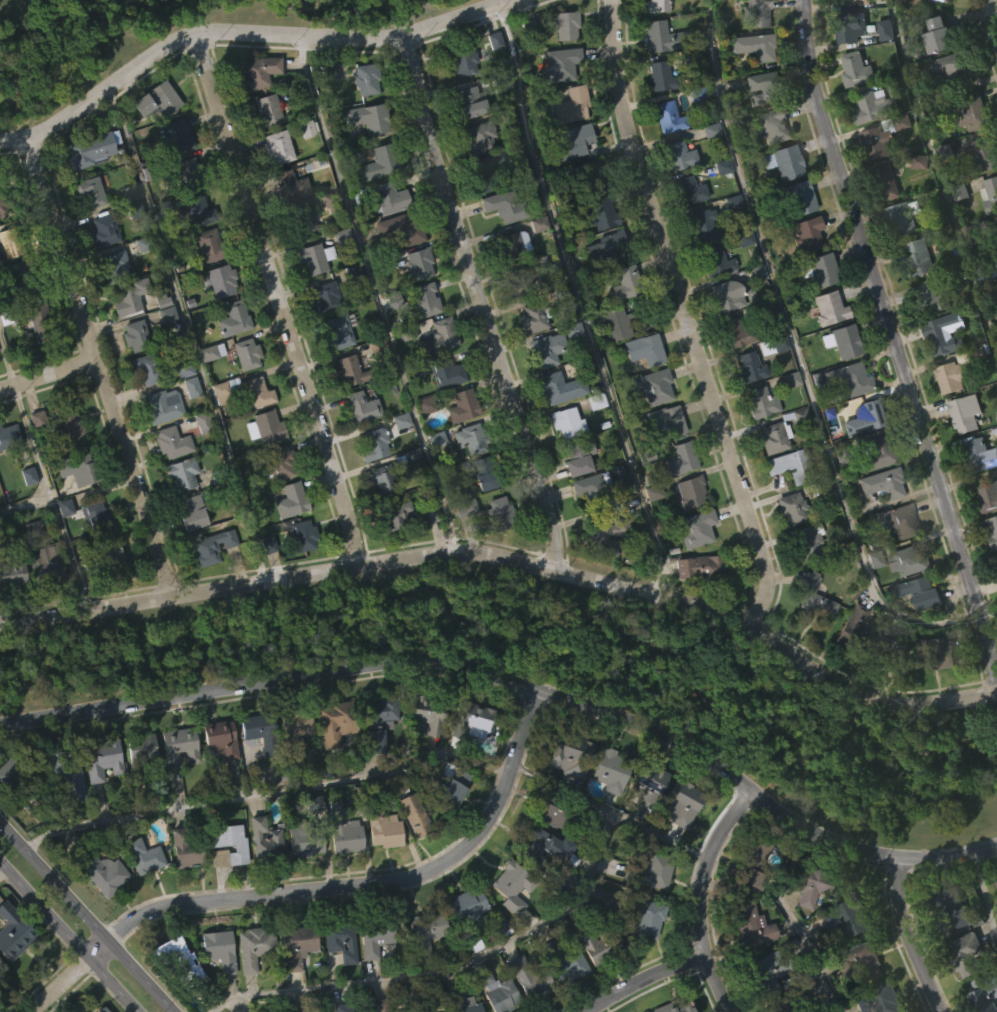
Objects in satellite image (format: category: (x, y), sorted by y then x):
building: (946, 0)
building: (846, 2)
building: (857, 2)
building: (657, 5)
building: (733, 10)
building: (757, 12)
road: (993, 12)
building: (932, 23)
building: (856, 25)
road: (243, 32)
building: (662, 36)
building: (941, 37)
building: (755, 45)
building: (463, 58)
building: (558, 64)
building: (525, 65)
building: (954, 68)
building: (855, 69)
building: (881, 69)
building: (256, 71)
building: (935, 74)
building: (658, 75)
building: (366, 78)
building: (491, 79)
building: (762, 84)
building: (156, 100)
building: (879, 101)
building: (467, 103)
building: (568, 104)
building: (945, 105)
building: (852, 109)
building: (326, 110)
building: (970, 110)
building: (267, 111)
building: (666, 116)
building: (369, 118)
building: (771, 124)
building: (179, 137)
building: (478, 137)
building: (153, 138)
building: (880, 140)
building: (463, 141)
building: (568, 141)
building: (275, 146)
building: (93, 148)
building: (968, 152)
building: (681, 155)
building: (981, 155)
building: (664, 156)
building: (364, 157)
building: (380, 161)
building: (782, 161)
building: (303, 167)
building: (707, 169)
building: (192, 172)
building: (175, 174)
building: (587, 174)
building: (485, 175)
road: (941, 176)
building: (569, 180)
building: (885, 182)
building: (289, 185)
building: (275, 186)
building: (690, 190)
building: (93, 191)
building: (943, 191)
building: (980, 193)
building: (675, 194)
building: (991, 195)
building: (798, 196)
building: (390, 197)
building: (5, 200)
building: (780, 200)
building: (505, 206)
building: (719, 206)
building: (181, 208)
building: (197, 211)
building: (602, 212)
building: (481, 214)
building: (900, 217)
building: (300, 221)
building: (883, 221)
building: (702, 223)
building: (996, 225)
building: (398, 226)
building: (686, 229)
building: (107, 230)
building: (86, 232)
building: (124, 232)
building: (804, 232)
building: (387, 236)
building: (16, 241)
building: (729, 241)
building: (208, 244)
building: (508, 245)
building: (195, 250)
building: (607, 250)
building: (315, 257)
building: (299, 258)
building: (897, 258)
building: (916, 258)
building: (718, 262)
building: (420, 263)
building: (535, 263)
building: (698, 263)
building: (117, 265)
building: (397, 266)
building: (816, 269)
building: (994, 269)
building: (100, 270)
building: (741, 276)
building: (22, 278)
building: (221, 280)
building: (522, 283)
building: (627, 283)
building: (205, 284)
building: (602, 289)
road: (376, 294)
building: (321, 296)
building: (727, 296)
building: (913, 296)
building: (9, 297)
building: (134, 297)
building: (308, 297)
building: (931, 297)
road: (278, 298)
building: (421, 298)
building: (712, 299)
building: (111, 301)
road: (480, 303)
road: (577, 304)
building: (996, 305)
building: (827, 307)
building: (350, 311)
building: (753, 311)
road: (684, 314)
building: (535, 317)
building: (230, 318)
building: (33, 319)
building: (619, 320)
building: (736, 329)
building: (334, 332)
road: (188, 333)
building: (941, 333)
building: (439, 334)
building: (138, 335)
building: (923, 335)
building: (420, 338)
building: (840, 339)
road: (894, 340)
building: (825, 346)
building: (544, 348)
building: (643, 348)
building: (209, 351)
building: (163, 353)
building: (243, 353)
road: (797, 355)
building: (230, 357)
building: (527, 357)
building: (36, 359)
building: (614, 362)
road: (6, 365)
road: (99, 366)
building: (144, 367)
building: (569, 368)
building: (750, 368)
building: (733, 369)
building: (965, 369)
building: (334, 370)
building: (348, 371)
building: (443, 371)
building: (941, 372)
road: (48, 374)
building: (132, 375)
building: (851, 378)
building: (769, 383)
building: (654, 385)
building: (557, 387)
building: (222, 389)
building: (208, 390)
building: (253, 392)
building: (762, 402)
building: (160, 405)
building: (463, 406)
building: (746, 406)
building: (344, 407)
building: (361, 407)
building: (141, 408)
building: (180, 408)
building: (442, 411)
building: (963, 413)
building: (949, 414)
building: (787, 417)
building: (842, 417)
building: (663, 419)
building: (865, 419)
building: (71, 420)
building: (564, 422)
building: (188, 426)
building: (265, 427)
building: (216, 431)
building: (9, 435)
building: (772, 436)
building: (470, 439)
building: (592, 439)
building: (757, 440)
building: (168, 442)
building: (374, 442)
building: (420, 443)
building: (357, 445)
building: (961, 451)
building: (875, 452)
building: (978, 455)
building: (33, 458)
building: (679, 458)
building: (397, 459)
building: (573, 459)
building: (661, 459)
building: (66, 460)
building: (198, 461)
building: (276, 461)
building: (260, 465)
building: (790, 465)
building: (78, 469)
building: (486, 472)
building: (179, 473)
building: (7, 475)
building: (769, 476)
building: (432, 477)
building: (466, 477)
building: (381, 480)
building: (168, 481)
building: (884, 483)
building: (595, 487)
building: (688, 491)
building: (976, 494)
building: (987, 497)
building: (675, 498)
building: (291, 499)
road: (48, 500)
building: (277, 500)
building: (571, 500)
road: (23, 503)
building: (463, 507)
building: (73, 508)
building: (790, 508)
building: (186, 512)
building: (496, 512)
building: (25, 514)
building: (98, 514)
building: (377, 518)
building: (395, 518)
building: (899, 520)
building: (879, 522)
building: (585, 526)
building: (647, 526)
building: (694, 528)
building: (992, 533)
building: (303, 534)
building: (605, 537)
building: (287, 539)
building: (805, 540)
building: (61, 546)
building: (208, 546)
building: (788, 547)
building: (494, 550)
building: (89, 551)
building: (188, 551)
building: (427, 551)
building: (390, 555)
building: (105, 558)
road: (509, 560)
building: (908, 560)
building: (51, 564)
building: (29, 566)
building: (702, 566)
building: (990, 569)
building: (299, 574)
building: (598, 574)
building: (15, 575)
building: (802, 580)
building: (264, 582)
building: (208, 586)
building: (107, 592)
building: (923, 592)
building: (813, 597)
building: (903, 598)
building: (43, 603)
building: (696, 605)
road: (988, 605)
building: (10, 614)
building: (851, 629)
building: (917, 631)
building: (810, 635)
building: (887, 653)
building: (939, 653)
building: (851, 665)
road: (516, 685)
building: (935, 690)
building: (429, 711)
building: (471, 719)
building: (333, 722)
building: (378, 724)
building: (296, 727)
building: (261, 730)
building: (221, 738)
building: (178, 745)
building: (139, 753)
building: (576, 754)
building: (425, 758)
building: (102, 759)
building: (468, 759)
building: (329, 760)
building: (373, 761)
building: (253, 764)
building: (292, 765)
building: (66, 772)
building: (626, 774)
building: (216, 777)
building: (15, 780)
building: (441, 781)
building: (137, 784)
building: (176, 785)
road: (262, 792)
building: (564, 793)
building: (99, 799)
building: (679, 802)
building: (556, 807)
building: (605, 809)
building: (5, 811)
building: (63, 812)
road: (608, 813)
building: (413, 814)
building: (646, 815)
building: (450, 824)
building: (382, 826)
building: (343, 829)
building: (640, 835)
building: (265, 840)
building: (305, 840)
building: (230, 841)
building: (679, 841)
building: (185, 848)
building: (542, 850)
building: (409, 853)
building: (144, 855)
building: (751, 861)
building: (339, 866)
building: (380, 868)
road: (0, 869)
building: (647, 872)
building: (103, 873)
building: (261, 878)
building: (302, 881)
building: (235, 883)
building: (541, 883)
building: (509, 886)
building: (810, 886)
building: (181, 887)
road: (986, 891)
road: (324, 893)
building: (140, 894)
road: (702, 898)
building: (950, 911)
building: (100, 912)
building: (465, 915)
building: (640, 915)
building: (849, 916)
road: (83, 919)
road: (790, 920)
building: (995, 922)
building: (507, 923)
building: (752, 924)
building: (805, 927)
building: (15, 930)
building: (422, 930)
building: (371, 934)
road: (908, 937)
building: (340, 939)
road: (65, 940)
building: (462, 942)
building: (593, 943)
building: (250, 946)
building: (296, 946)
building: (947, 947)
building: (213, 948)
building: (968, 953)
building: (643, 955)
building: (561, 960)
building: (858, 961)
building: (3, 962)
building: (177, 963)
building: (747, 964)
building: (420, 969)
road: (444, 971)
building: (769, 971)
building: (530, 974)
road: (643, 978)
building: (337, 979)
building: (372, 979)
building: (292, 984)
building: (250, 985)
building: (589, 985)
building: (215, 987)
building: (963, 990)
building: (171, 993)
building: (501, 995)
building: (986, 996)
building: (855, 998)
building: (877, 999)
building: (565, 1000)
building: (458, 1002)
building: (790, 1002)
building: (377, 1004)
building: (518, 1004)
building: (415, 1005)
building: (676, 1006)
building: (346, 1007)
building: (106, 1009)
building: (296, 1010)
building: (482, 1010)
building: (396, 1011)

